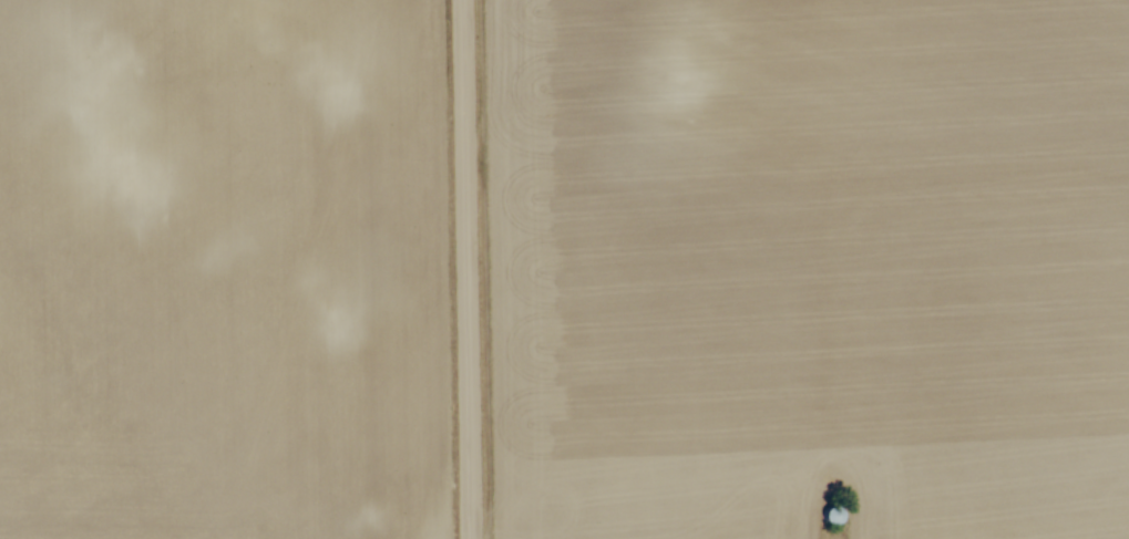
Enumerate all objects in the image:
crop: (808, 268)
road: (465, 269)
crop: (223, 270)
building: (827, 519)

